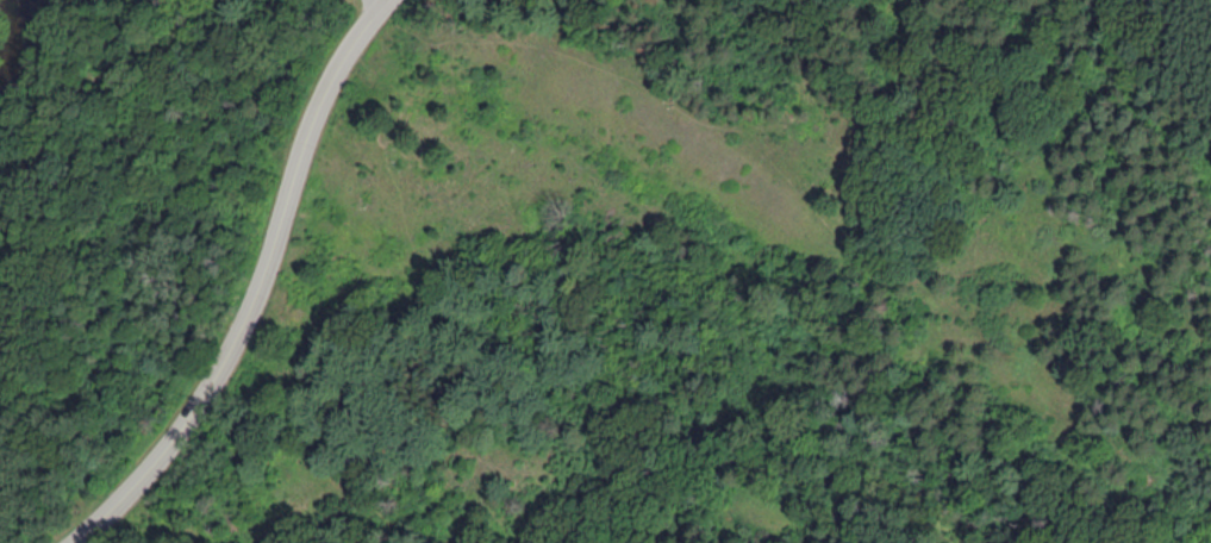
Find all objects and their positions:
road: (382, 0)
park: (106, 2)
road: (233, 5)
river: (18, 52)
road: (81, 101)
road: (788, 185)
park: (605, 271)
road: (258, 287)

